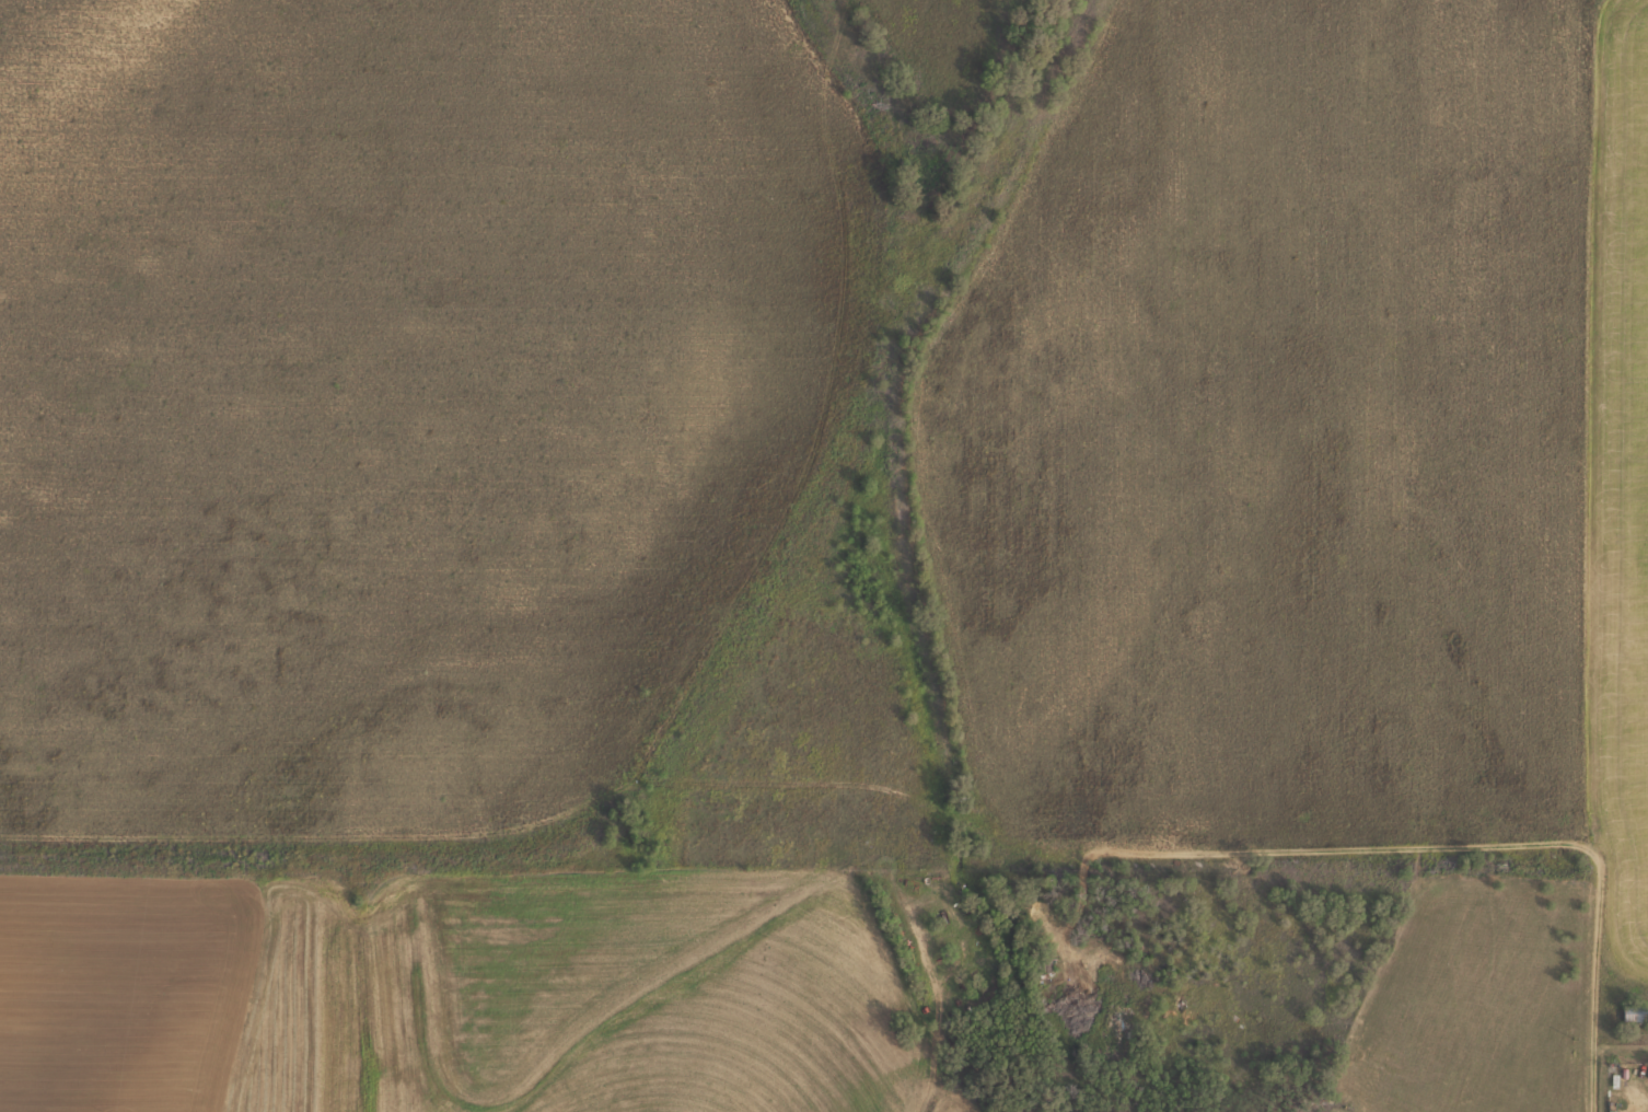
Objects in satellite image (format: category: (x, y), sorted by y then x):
road: (1423, 848)
building: (1634, 1011)
building: (1647, 1075)

